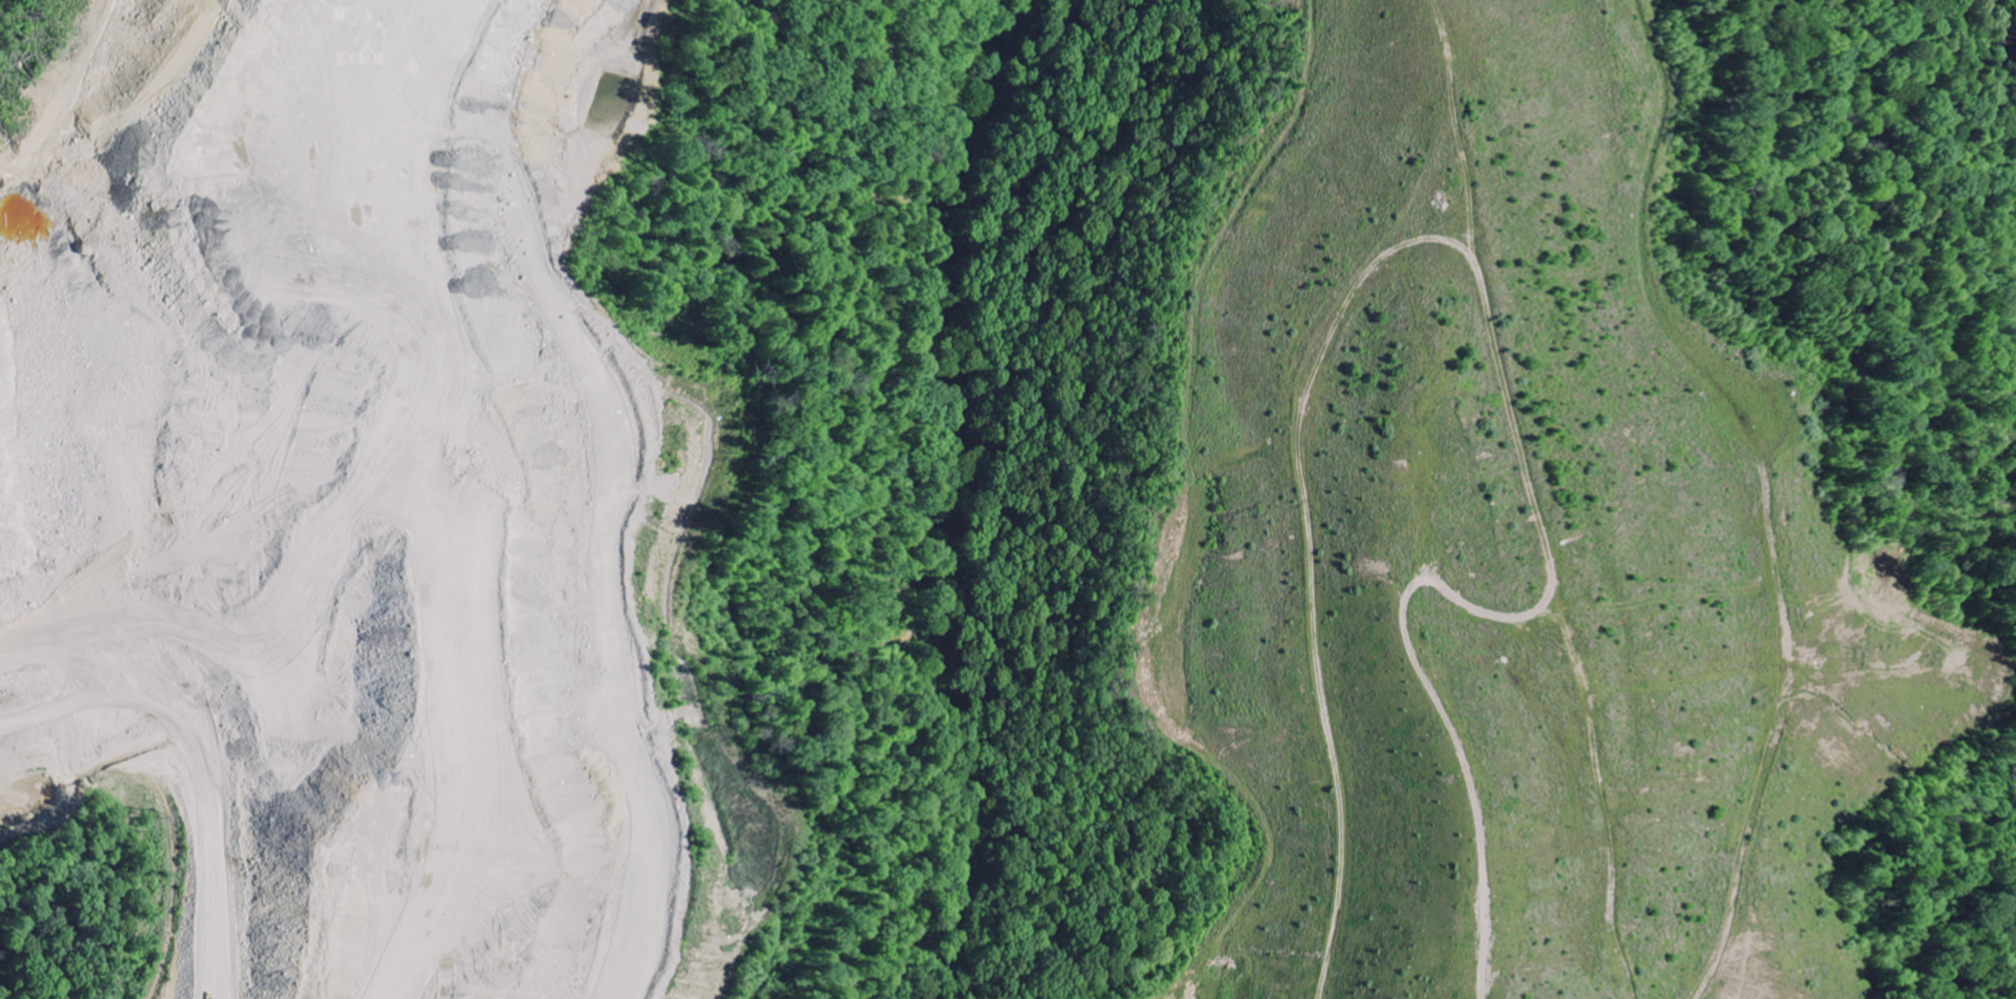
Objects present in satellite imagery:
quarry: (970, 512)

